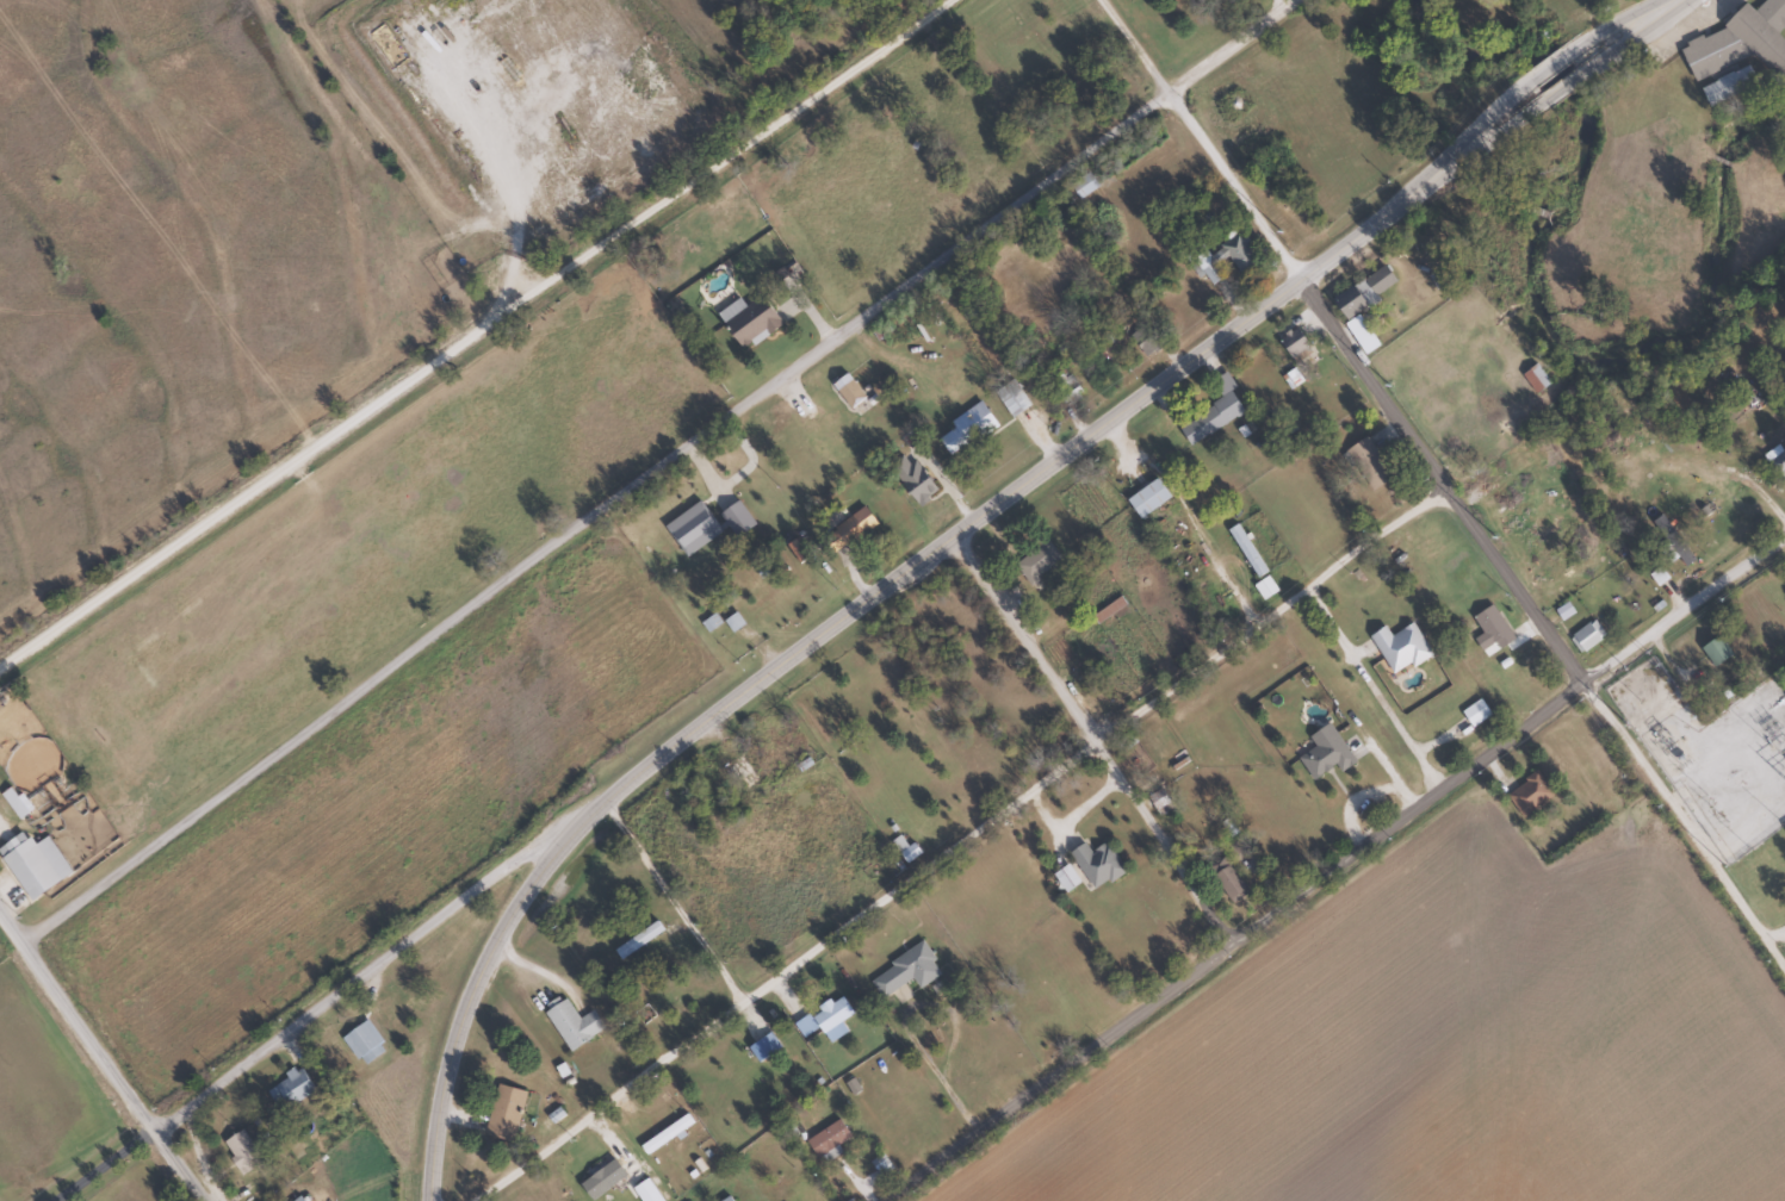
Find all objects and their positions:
road: (1284, 2)
road: (1642, 23)
building: (1741, 42)
road: (1234, 46)
road: (1567, 68)
road: (501, 156)
building: (1081, 185)
river: (1529, 255)
building: (1222, 257)
building: (746, 322)
building: (1356, 326)
road: (473, 328)
building: (1293, 342)
building: (1146, 343)
building: (1784, 368)
building: (1533, 378)
building: (1066, 390)
building: (847, 391)
building: (1011, 397)
building: (1213, 412)
building: (963, 430)
building: (1775, 461)
road: (1052, 463)
building: (1368, 463)
road: (574, 477)
road: (1413, 497)
building: (1146, 498)
building: (848, 529)
building: (1245, 549)
building: (1036, 559)
building: (750, 606)
building: (1490, 629)
building: (1582, 633)
building: (1399, 647)
building: (1715, 649)
road: (1080, 745)
building: (1326, 755)
building: (771, 763)
building: (1527, 794)
road: (881, 813)
building: (1235, 848)
building: (1096, 864)
building: (26, 867)
road: (1334, 867)
road: (646, 873)
building: (1226, 879)
building: (638, 940)
building: (94, 958)
building: (904, 971)
road: (280, 982)
road: (469, 1004)
building: (824, 1020)
building: (571, 1023)
building: (364, 1043)
road: (98, 1062)
building: (291, 1088)
building: (503, 1113)
building: (825, 1141)
building: (241, 1152)
building: (880, 1169)
building: (298, 1199)
building: (724, 1199)

